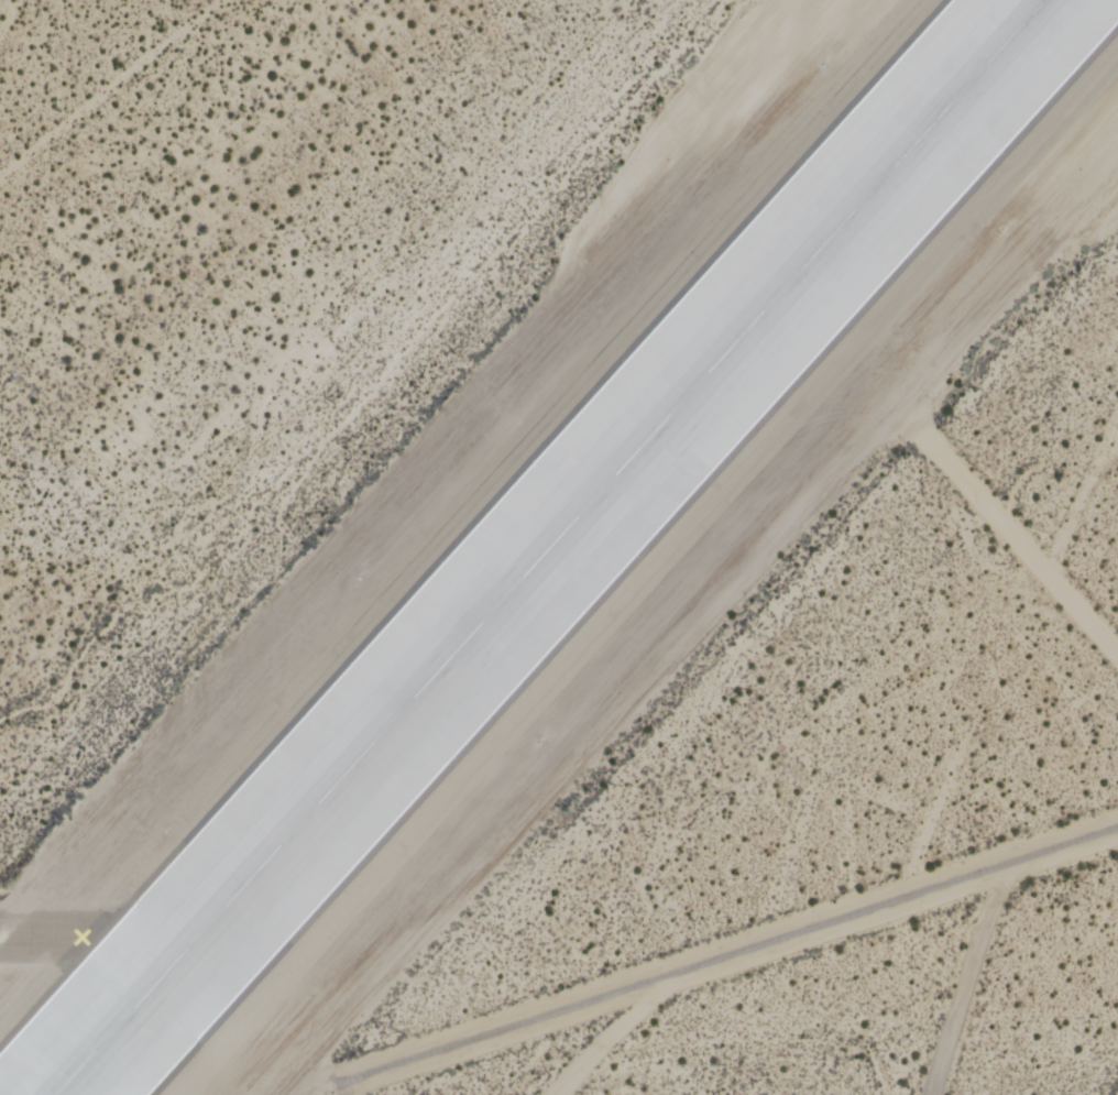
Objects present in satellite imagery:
airport runway: (548, 547)
airport: (559, 547)
airport taxiway: (97, 937)

